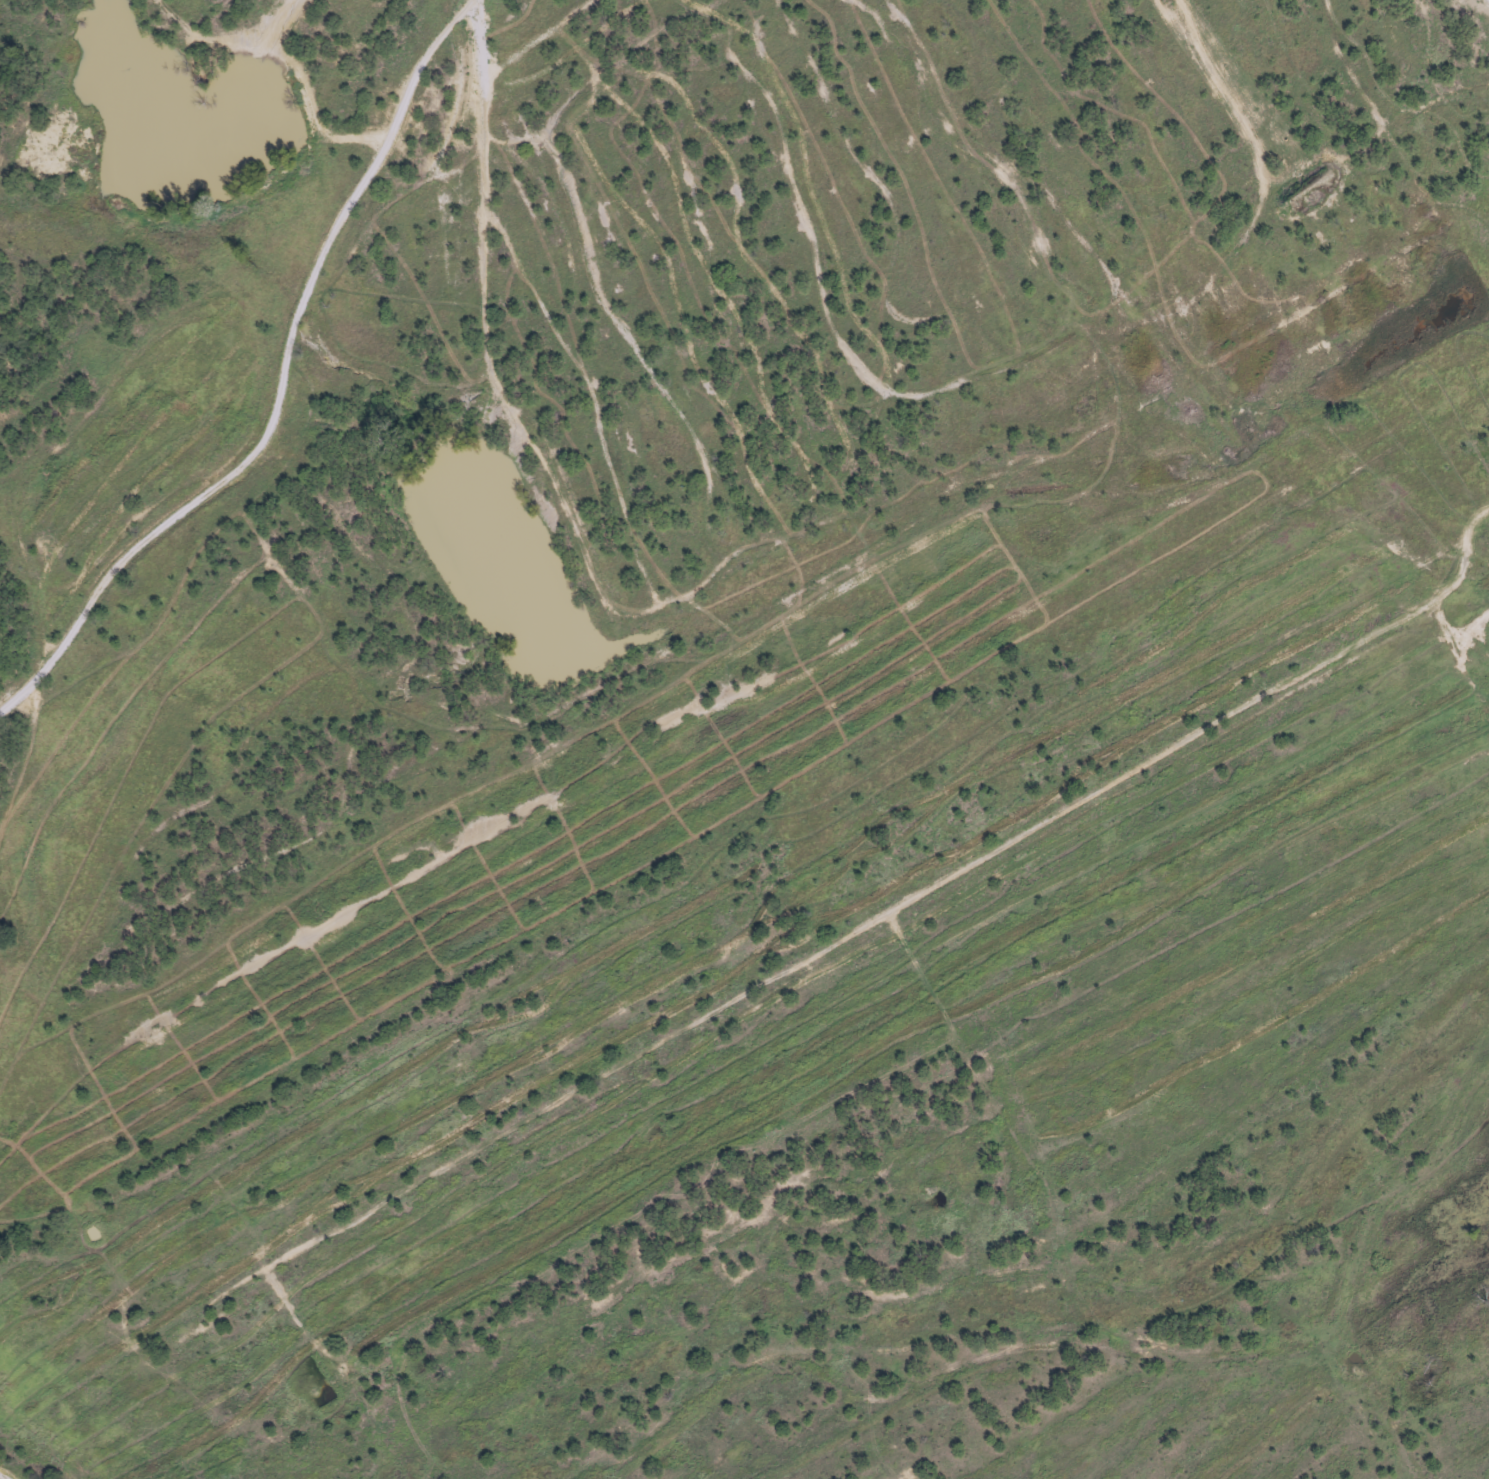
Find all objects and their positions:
road: (1486, 2)
road: (1449, 43)
road: (185, 517)
road: (729, 636)
road: (23, 778)
road: (743, 845)
road: (9, 1472)

